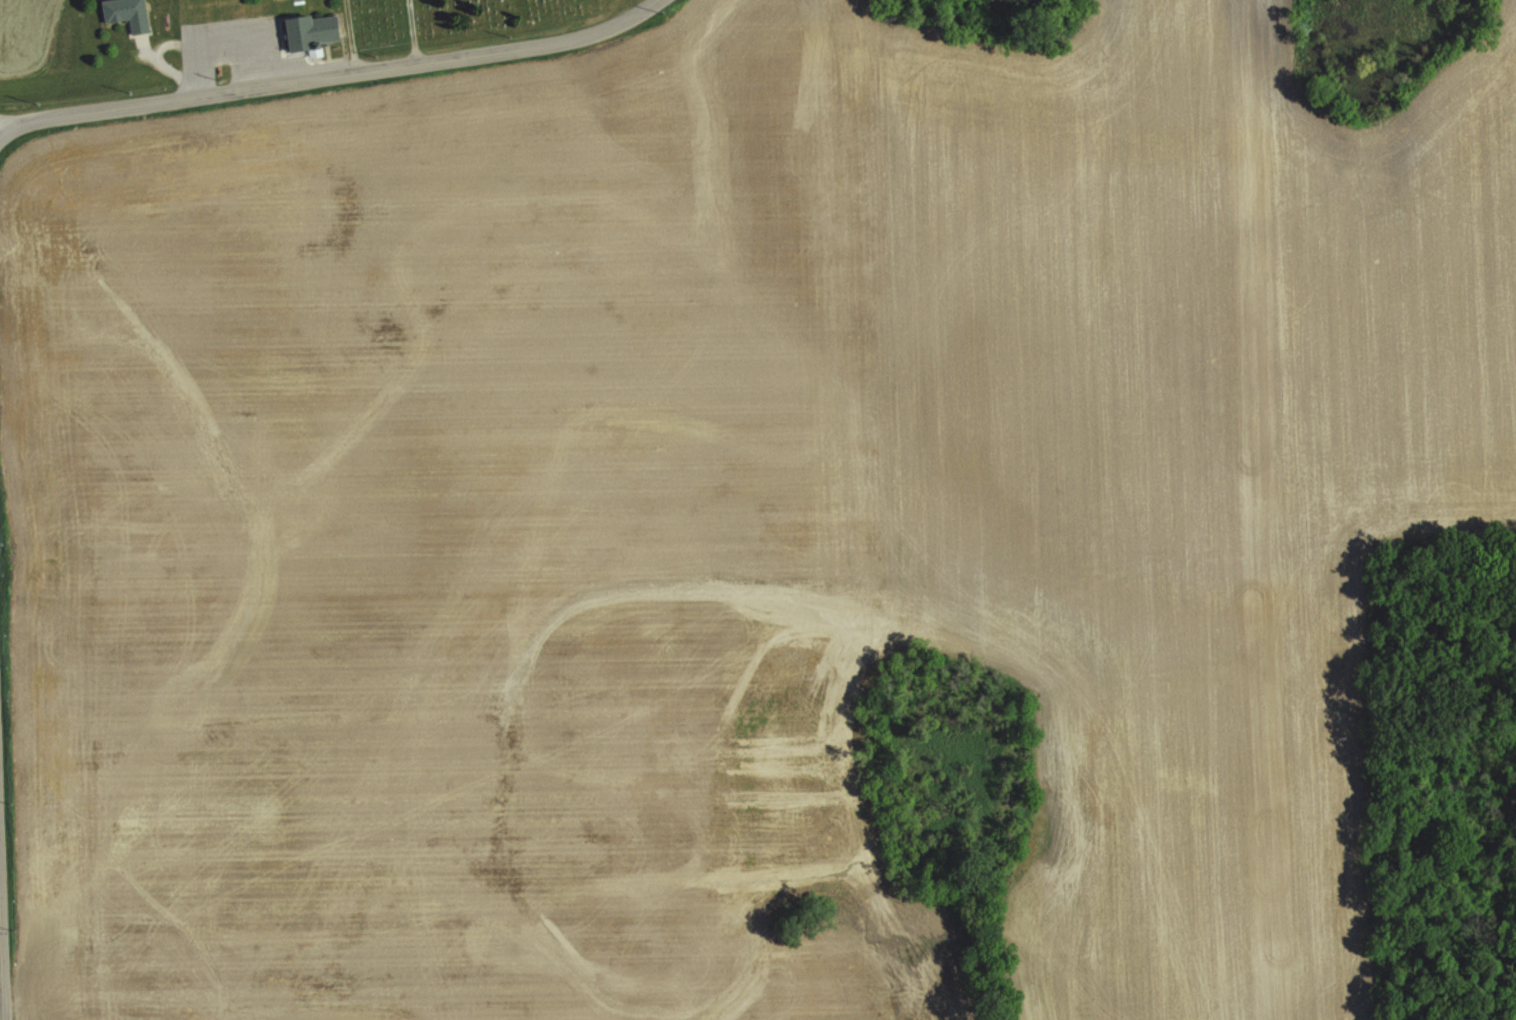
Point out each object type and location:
building: (128, 14)
park: (458, 22)
building: (313, 33)
road: (223, 42)
road: (333, 75)
road: (0, 994)

